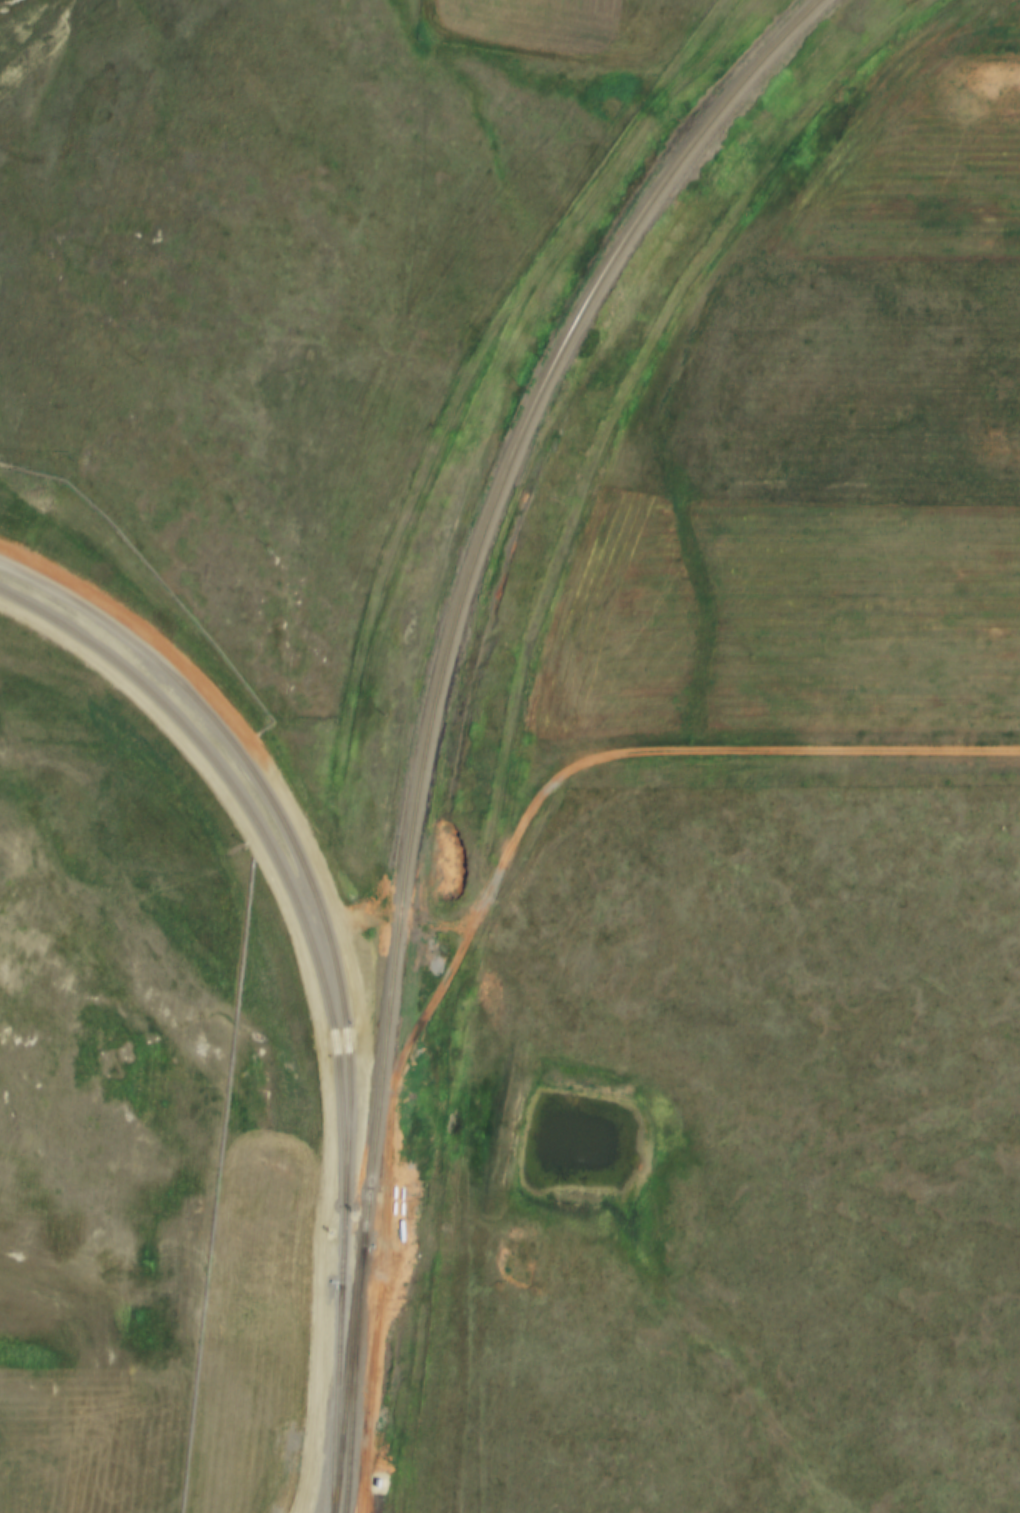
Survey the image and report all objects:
railway: (433, 705)
road: (680, 758)
road: (243, 844)
road: (396, 1203)

